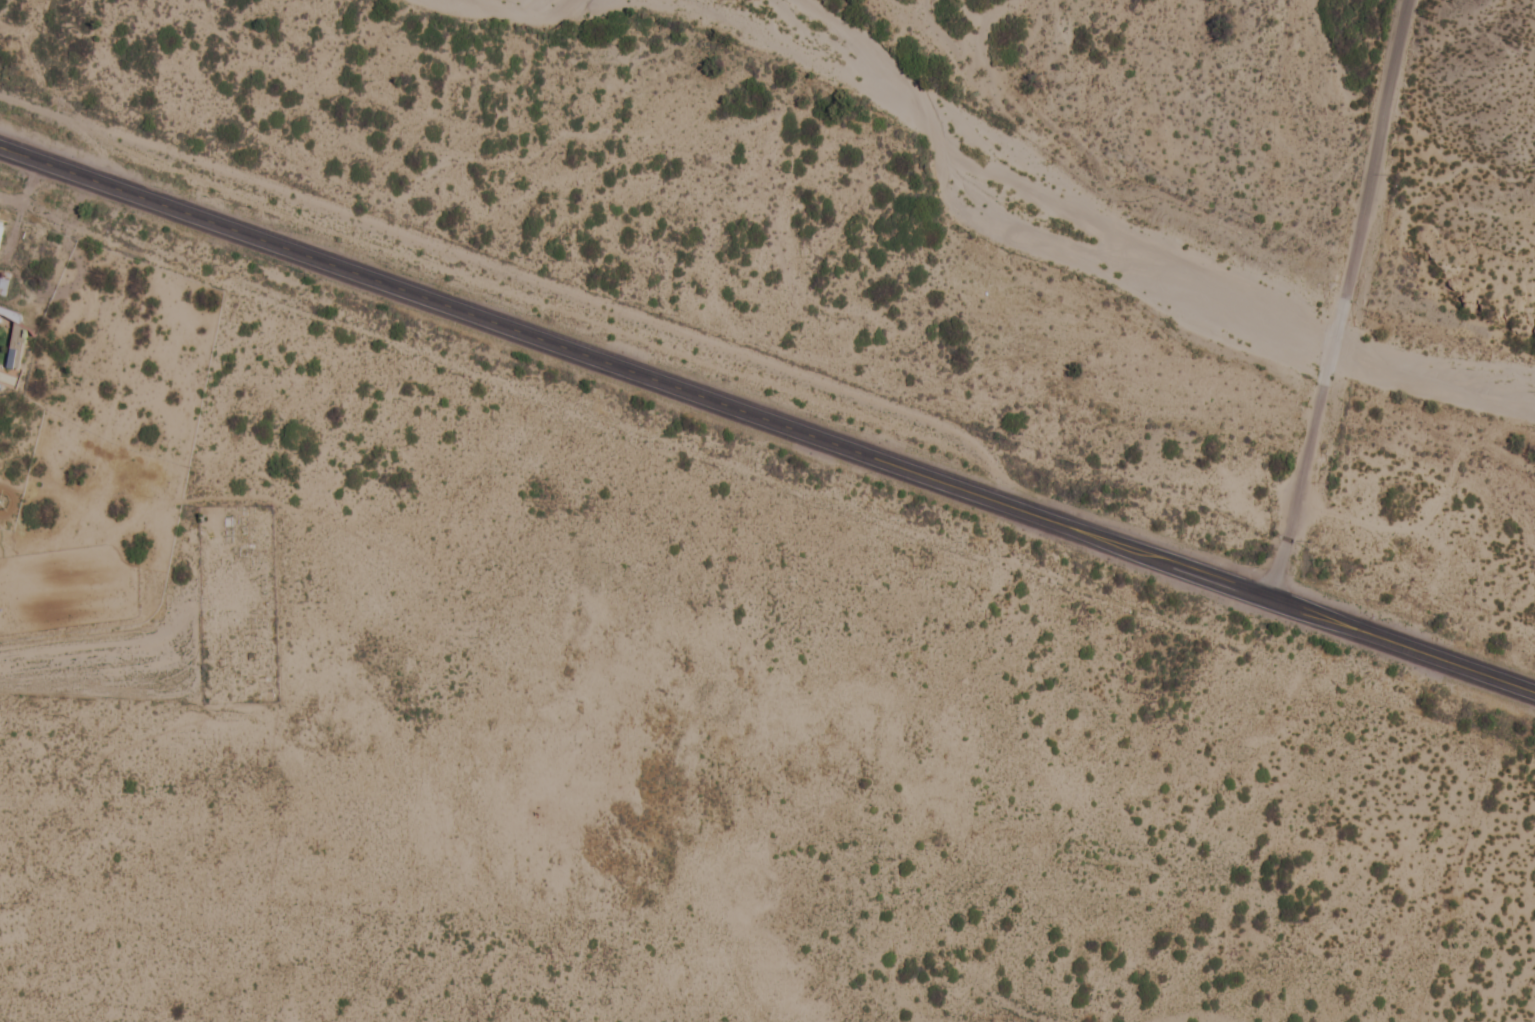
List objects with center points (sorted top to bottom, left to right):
road: (1358, 298)
building: (14, 349)
road: (767, 417)
park: (235, 604)

